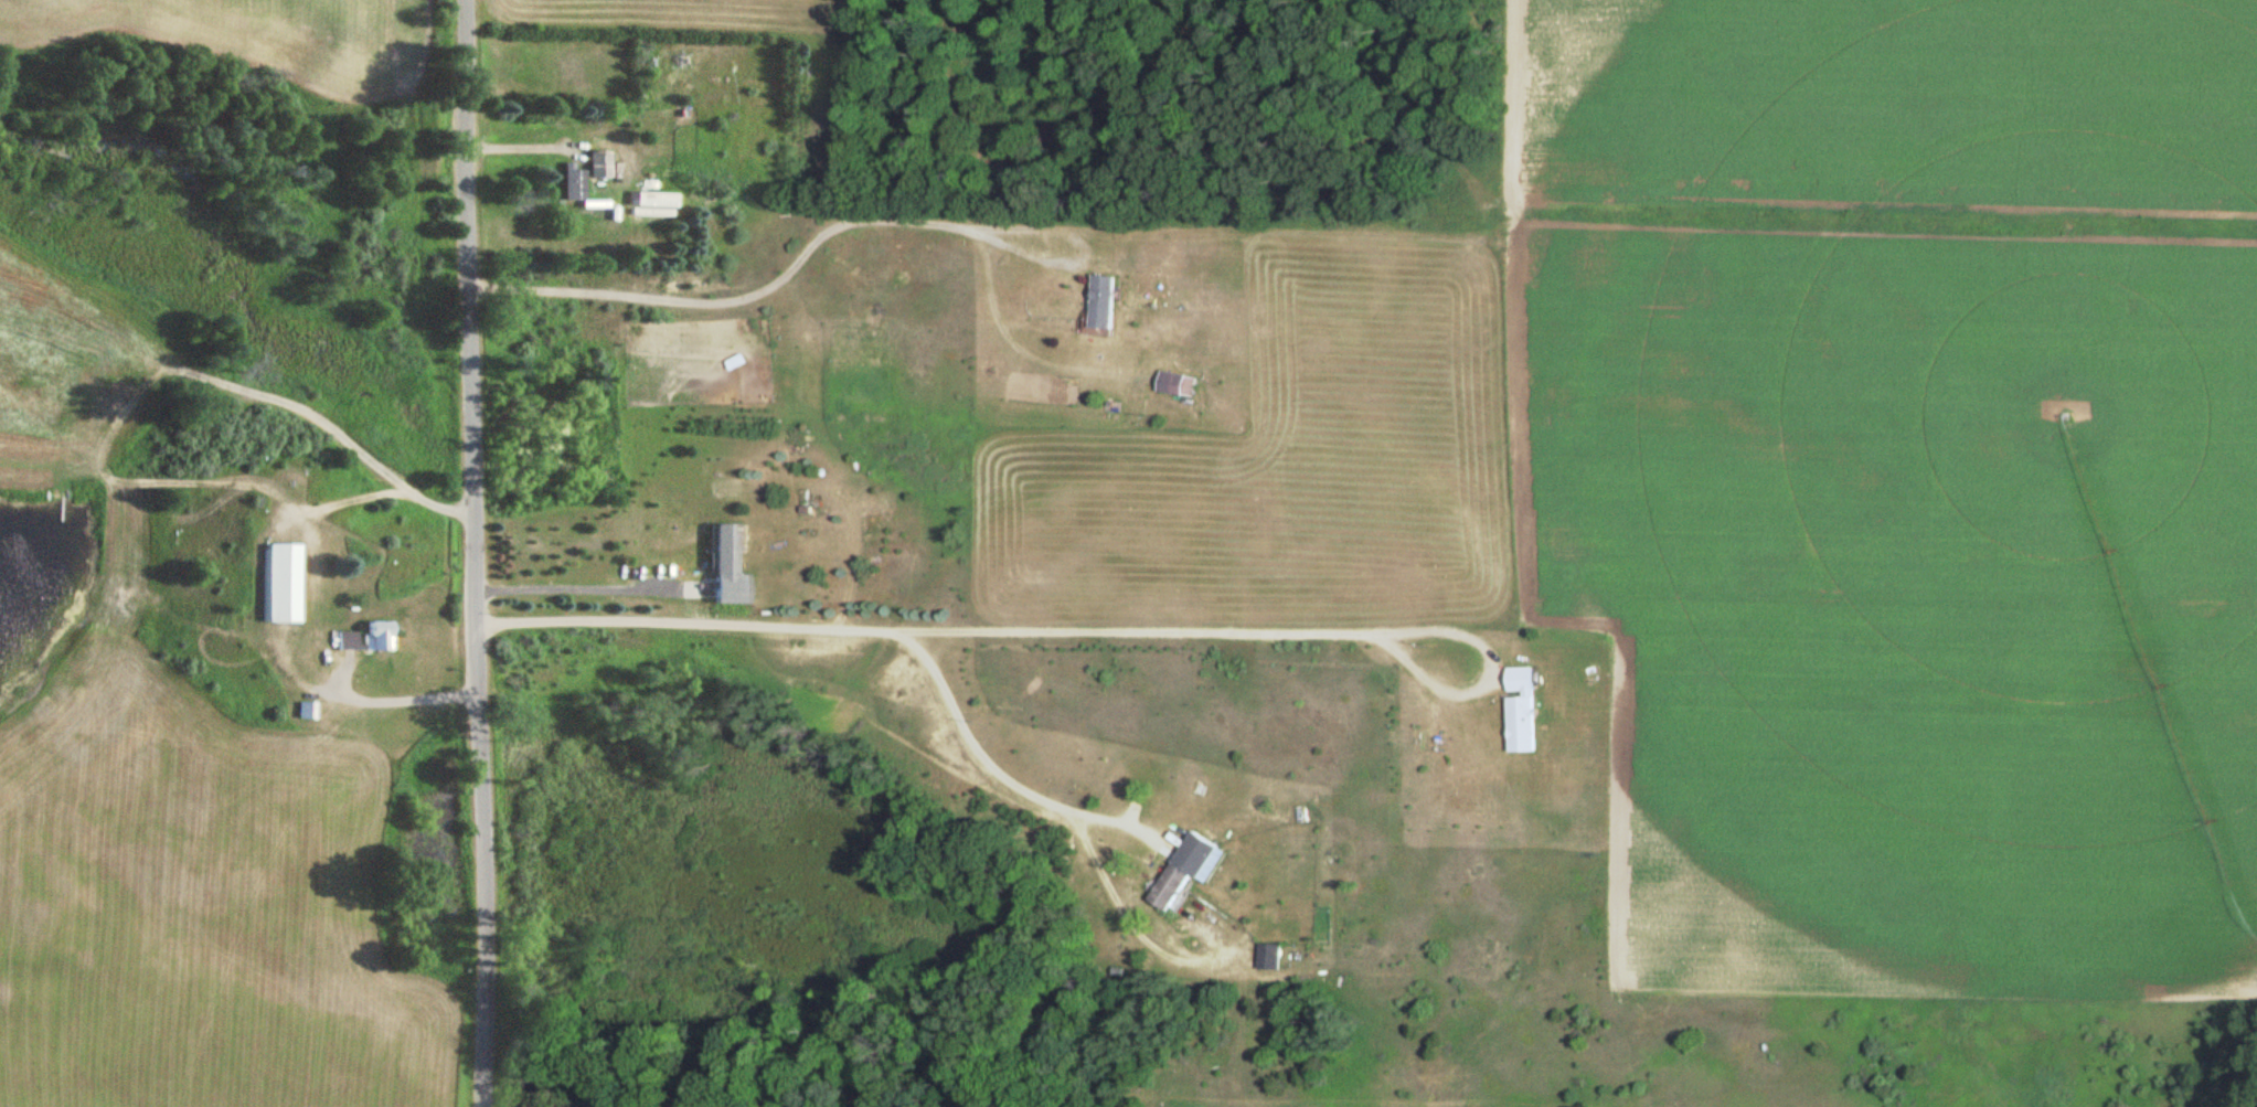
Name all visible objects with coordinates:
building: (603, 166)
building: (576, 183)
road: (831, 226)
building: (1104, 302)
road: (1014, 348)
building: (1175, 385)
road: (383, 494)
road: (480, 553)
building: (731, 570)
building: (283, 584)
road: (593, 586)
road: (1069, 631)
building: (381, 637)
building: (350, 641)
road: (398, 700)
building: (309, 711)
building: (1520, 711)
road: (981, 760)
building: (1189, 870)
road: (1118, 906)
building: (1269, 958)

